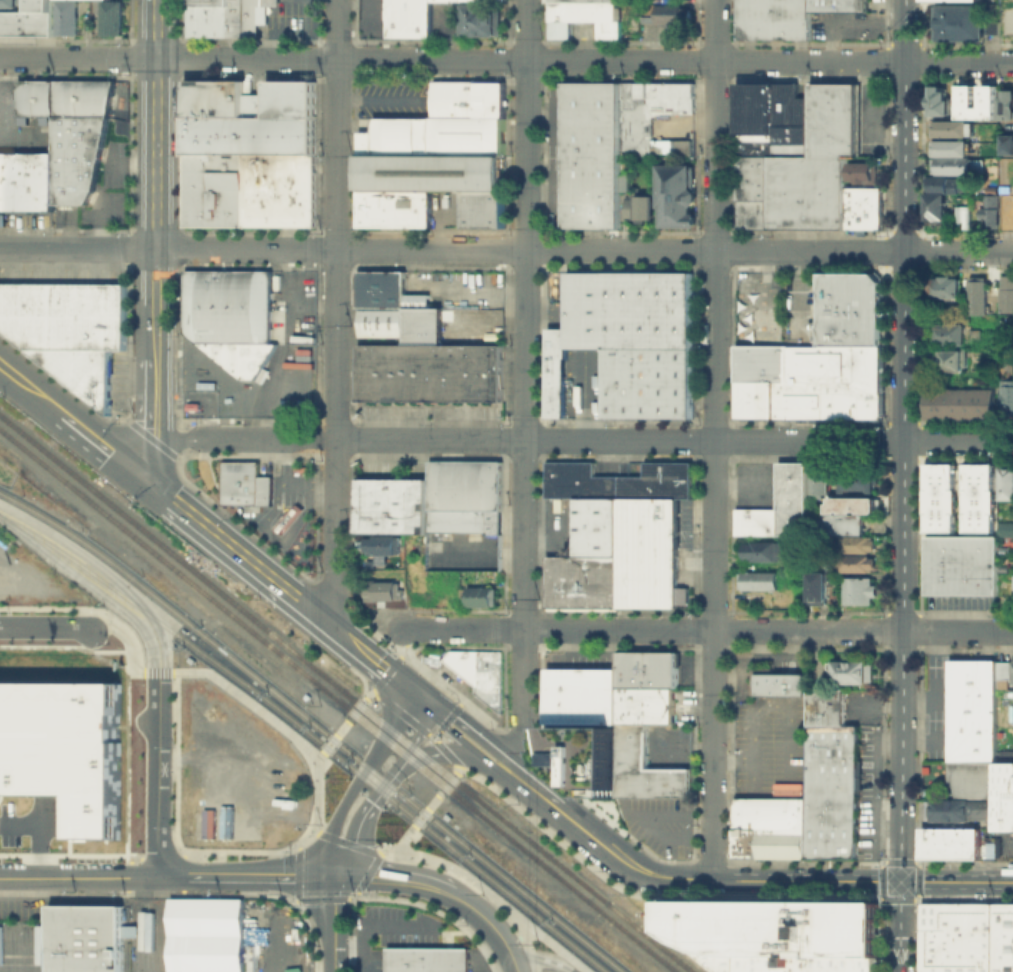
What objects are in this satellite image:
building: (590, 0)
building: (965, 0)
building: (9, 2)
building: (213, 2)
building: (272, 3)
building: (838, 5)
road: (282, 14)
building: (253, 16)
building: (66, 17)
building: (110, 17)
building: (586, 17)
building: (667, 17)
building: (409, 18)
building: (633, 18)
building: (755, 18)
building: (992, 18)
building: (1006, 18)
building: (28, 19)
building: (791, 19)
building: (197, 20)
building: (226, 20)
building: (483, 20)
building: (958, 21)
road: (275, 29)
road: (506, 60)
building: (987, 95)
building: (62, 97)
building: (939, 99)
building: (1005, 103)
building: (249, 116)
building: (773, 116)
building: (832, 119)
road: (156, 124)
building: (638, 127)
building: (952, 127)
road: (136, 128)
building: (78, 132)
road: (23, 138)
building: (441, 142)
building: (1006, 143)
building: (754, 147)
building: (949, 147)
power tower: (353, 153)
building: (593, 154)
road: (131, 164)
building: (951, 165)
building: (863, 171)
building: (73, 175)
building: (752, 177)
building: (26, 179)
building: (942, 183)
building: (248, 189)
building: (806, 192)
building: (677, 194)
building: (397, 207)
building: (641, 207)
building: (935, 207)
building: (486, 208)
building: (864, 208)
building: (990, 210)
building: (1005, 211)
building: (751, 213)
building: (961, 216)
road: (337, 219)
road: (100, 223)
road: (179, 232)
road: (506, 250)
road: (155, 274)
road: (759, 284)
building: (946, 286)
building: (386, 289)
building: (979, 289)
road: (799, 290)
building: (1007, 300)
building: (849, 309)
building: (29, 313)
building: (70, 315)
building: (229, 316)
power tower: (353, 323)
building: (402, 323)
road: (155, 329)
building: (950, 334)
building: (977, 334)
building: (628, 341)
building: (92, 344)
road: (127, 356)
building: (952, 358)
building: (840, 364)
road: (7, 367)
building: (372, 371)
building: (408, 372)
building: (451, 372)
building: (488, 372)
road: (522, 386)
building: (804, 387)
road: (39, 394)
building: (1008, 395)
building: (754, 398)
building: (191, 404)
building: (961, 404)
road: (156, 419)
road: (128, 420)
road: (352, 420)
road: (152, 438)
road: (713, 438)
road: (176, 439)
road: (266, 440)
road: (674, 440)
road: (101, 444)
road: (178, 457)
building: (301, 469)
traffic signals: (138, 475)
building: (819, 478)
building: (578, 480)
building: (858, 480)
building: (658, 481)
building: (1006, 482)
building: (244, 483)
road: (738, 483)
road: (307, 484)
road: (903, 486)
building: (465, 496)
building: (792, 497)
building: (939, 497)
building: (977, 498)
building: (858, 504)
building: (392, 505)
building: (289, 516)
road: (315, 518)
building: (756, 521)
building: (836, 523)
street lamp: (4, 528)
building: (1006, 528)
power tower: (350, 530)
road: (333, 531)
road: (280, 538)
building: (857, 543)
building: (381, 544)
road: (227, 546)
building: (766, 551)
building: (648, 552)
building: (587, 560)
building: (857, 562)
building: (962, 565)
road: (314, 579)
building: (757, 579)
building: (817, 587)
building: (857, 589)
building: (386, 590)
road: (331, 595)
building: (482, 595)
street lamp: (102, 603)
road: (64, 606)
road: (350, 609)
road: (504, 610)
road: (918, 611)
road: (730, 612)
road: (49, 626)
road: (108, 627)
road: (384, 628)
road: (331, 629)
road: (706, 629)
road: (67, 645)
road: (451, 645)
road: (134, 649)
road: (372, 661)
building: (464, 662)
road: (883, 666)
road: (353, 669)
building: (648, 669)
building: (1003, 669)
building: (851, 671)
building: (1012, 671)
road: (386, 672)
road: (134, 673)
road: (157, 673)
road: (174, 673)
building: (489, 676)
building: (972, 680)
building: (776, 682)
traffic signals: (399, 683)
road: (410, 691)
road: (450, 691)
road: (368, 693)
railway: (345, 694)
building: (1007, 694)
building: (584, 696)
building: (824, 697)
railway: (337, 700)
traffic signals: (421, 700)
road: (459, 702)
building: (647, 705)
road: (356, 708)
road: (433, 709)
road: (448, 715)
building: (824, 715)
road: (279, 725)
railway: (315, 725)
road: (694, 725)
road: (341, 727)
road: (421, 727)
road: (504, 728)
road: (419, 729)
road: (435, 732)
building: (971, 732)
railway: (309, 734)
road: (481, 735)
road: (328, 743)
road: (520, 746)
parking lot: (769, 746)
building: (64, 749)
road: (467, 750)
road: (436, 751)
traffic signals: (439, 751)
road: (324, 758)
building: (585, 759)
road: (538, 761)
road: (125, 767)
building: (647, 768)
building: (831, 774)
power tower: (350, 777)
road: (356, 779)
building: (971, 780)
road: (446, 784)
building: (1004, 784)
road: (532, 788)
road: (432, 802)
building: (961, 808)
road: (363, 812)
building: (770, 813)
road: (420, 816)
road: (175, 820)
building: (1004, 822)
road: (316, 831)
road: (406, 832)
road: (38, 835)
road: (304, 839)
building: (831, 841)
building: (945, 841)
road: (349, 842)
building: (745, 842)
building: (974, 842)
building: (780, 844)
road: (70, 853)
building: (951, 853)
road: (183, 854)
road: (161, 856)
road: (692, 858)
road: (709, 859)
road: (627, 861)
road: (726, 861)
road: (368, 871)
road: (127, 875)
road: (80, 878)
road: (248, 878)
traffic signals: (336, 878)
road: (397, 878)
road: (805, 879)
traffic signals: (901, 881)
road: (957, 881)
road: (126, 891)
power tower: (352, 892)
road: (355, 893)
road: (184, 894)
road: (493, 894)
road: (350, 896)
road: (686, 898)
road: (295, 899)
road: (917, 899)
road: (929, 899)
road: (294, 901)
building: (1004, 908)
road: (437, 910)
building: (1004, 920)
road: (490, 922)
road: (385, 923)
building: (931, 924)
road: (335, 925)
building: (948, 925)
building: (961, 925)
building: (974, 925)
building: (988, 925)
building: (1003, 932)
road: (350, 933)
building: (783, 934)
railway: (147, 935)
building: (206, 935)
road: (519, 935)
railway: (135, 936)
building: (85, 938)
building: (1004, 944)
railway: (144, 948)
building: (957, 954)
building: (1003, 955)
road: (544, 957)
building: (428, 959)
road: (514, 966)
building: (931, 966)
building: (947, 966)
building: (961, 966)
building: (974, 966)
building: (987, 966)
building: (1003, 966)

